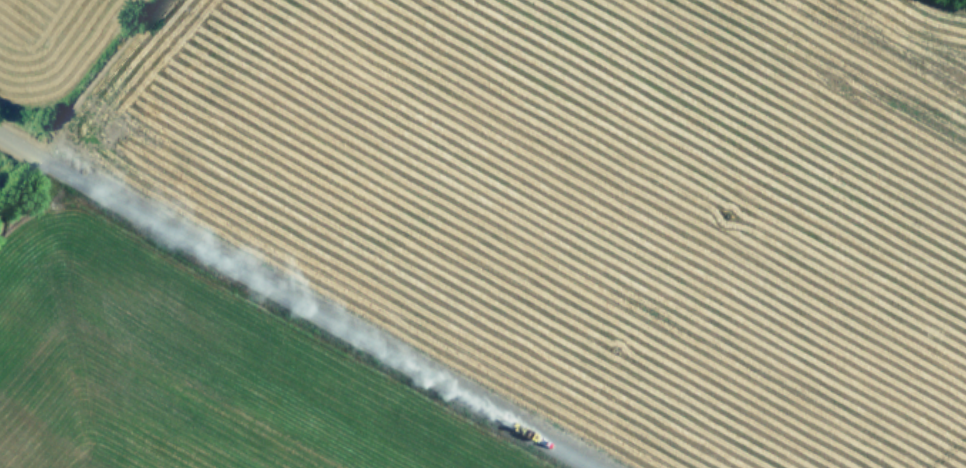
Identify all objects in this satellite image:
crop: (482, 234)
road: (295, 302)

